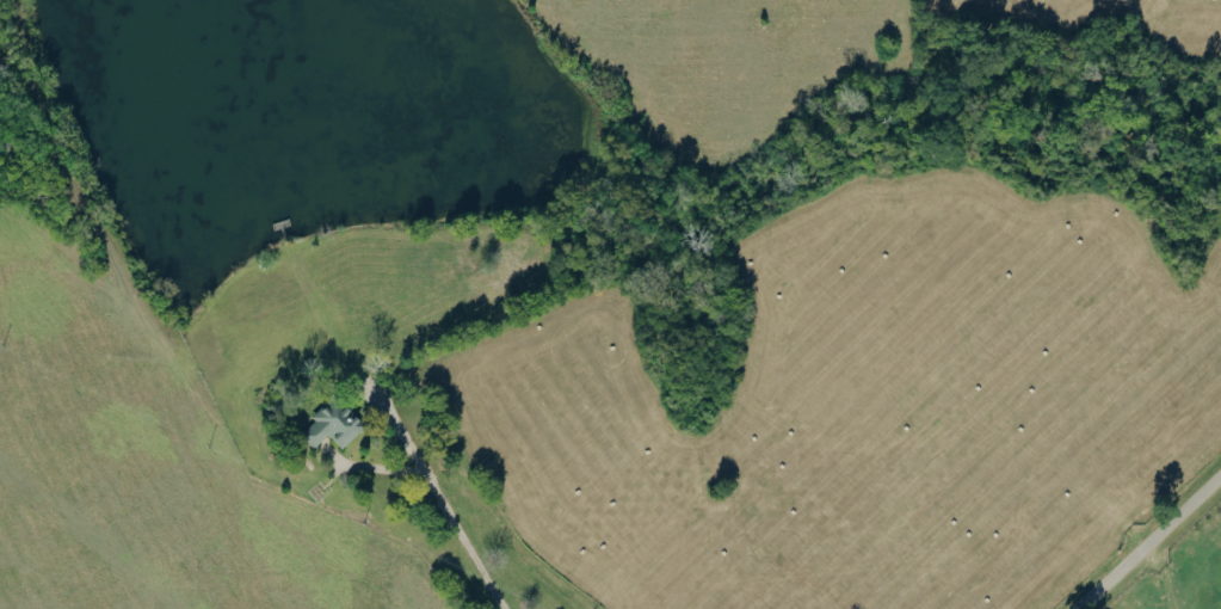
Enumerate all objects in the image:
building: (329, 425)
road: (443, 503)
road: (1148, 541)

